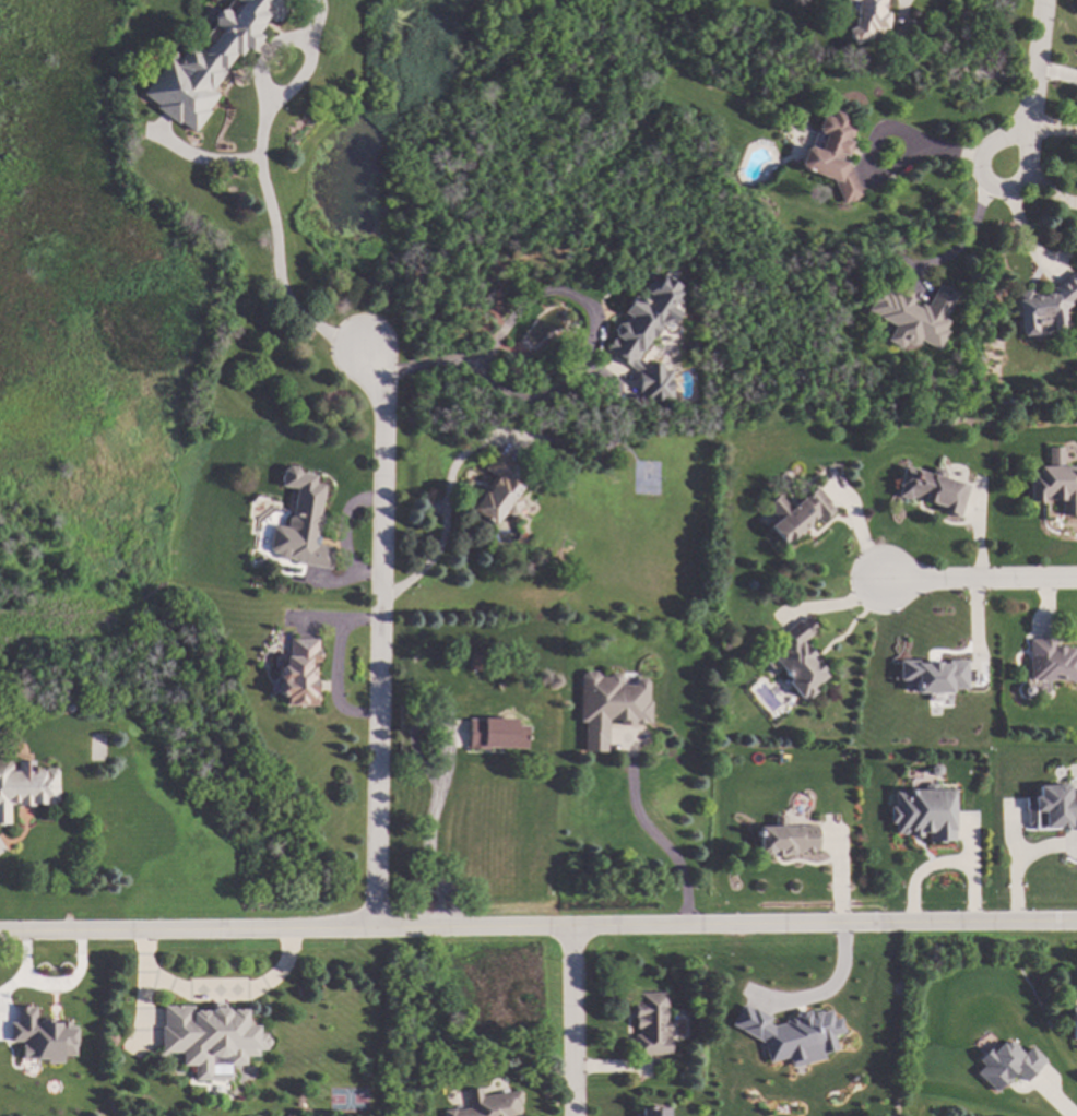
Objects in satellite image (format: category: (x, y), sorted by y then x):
building: (864, 20)
road: (1033, 58)
building: (208, 62)
road: (1051, 130)
road: (873, 141)
building: (831, 154)
road: (987, 183)
road: (1048, 191)
road: (963, 245)
road: (276, 250)
road: (564, 298)
building: (1043, 305)
building: (911, 314)
building: (700, 325)
building: (635, 329)
building: (654, 385)
building: (609, 440)
building: (1053, 483)
building: (499, 489)
building: (932, 489)
building: (796, 512)
building: (300, 531)
road: (437, 548)
road: (975, 579)
road: (383, 641)
building: (416, 657)
building: (476, 658)
building: (800, 658)
building: (1051, 660)
building: (298, 673)
building: (934, 673)
building: (1027, 691)
building: (67, 704)
building: (608, 705)
building: (496, 734)
road: (446, 753)
building: (935, 770)
building: (24, 784)
building: (1052, 806)
building: (923, 814)
building: (785, 836)
road: (659, 845)
road: (1018, 863)
road: (944, 865)
road: (447, 903)
road: (413, 905)
road: (537, 930)
road: (213, 992)
road: (819, 993)
building: (1074, 1021)
road: (570, 1023)
building: (651, 1024)
building: (790, 1035)
building: (208, 1036)
building: (39, 1037)
building: (1006, 1065)
building: (717, 1076)
building: (806, 1077)
building: (778, 1099)
building: (487, 1104)
building: (652, 1112)
building: (288, 1114)

